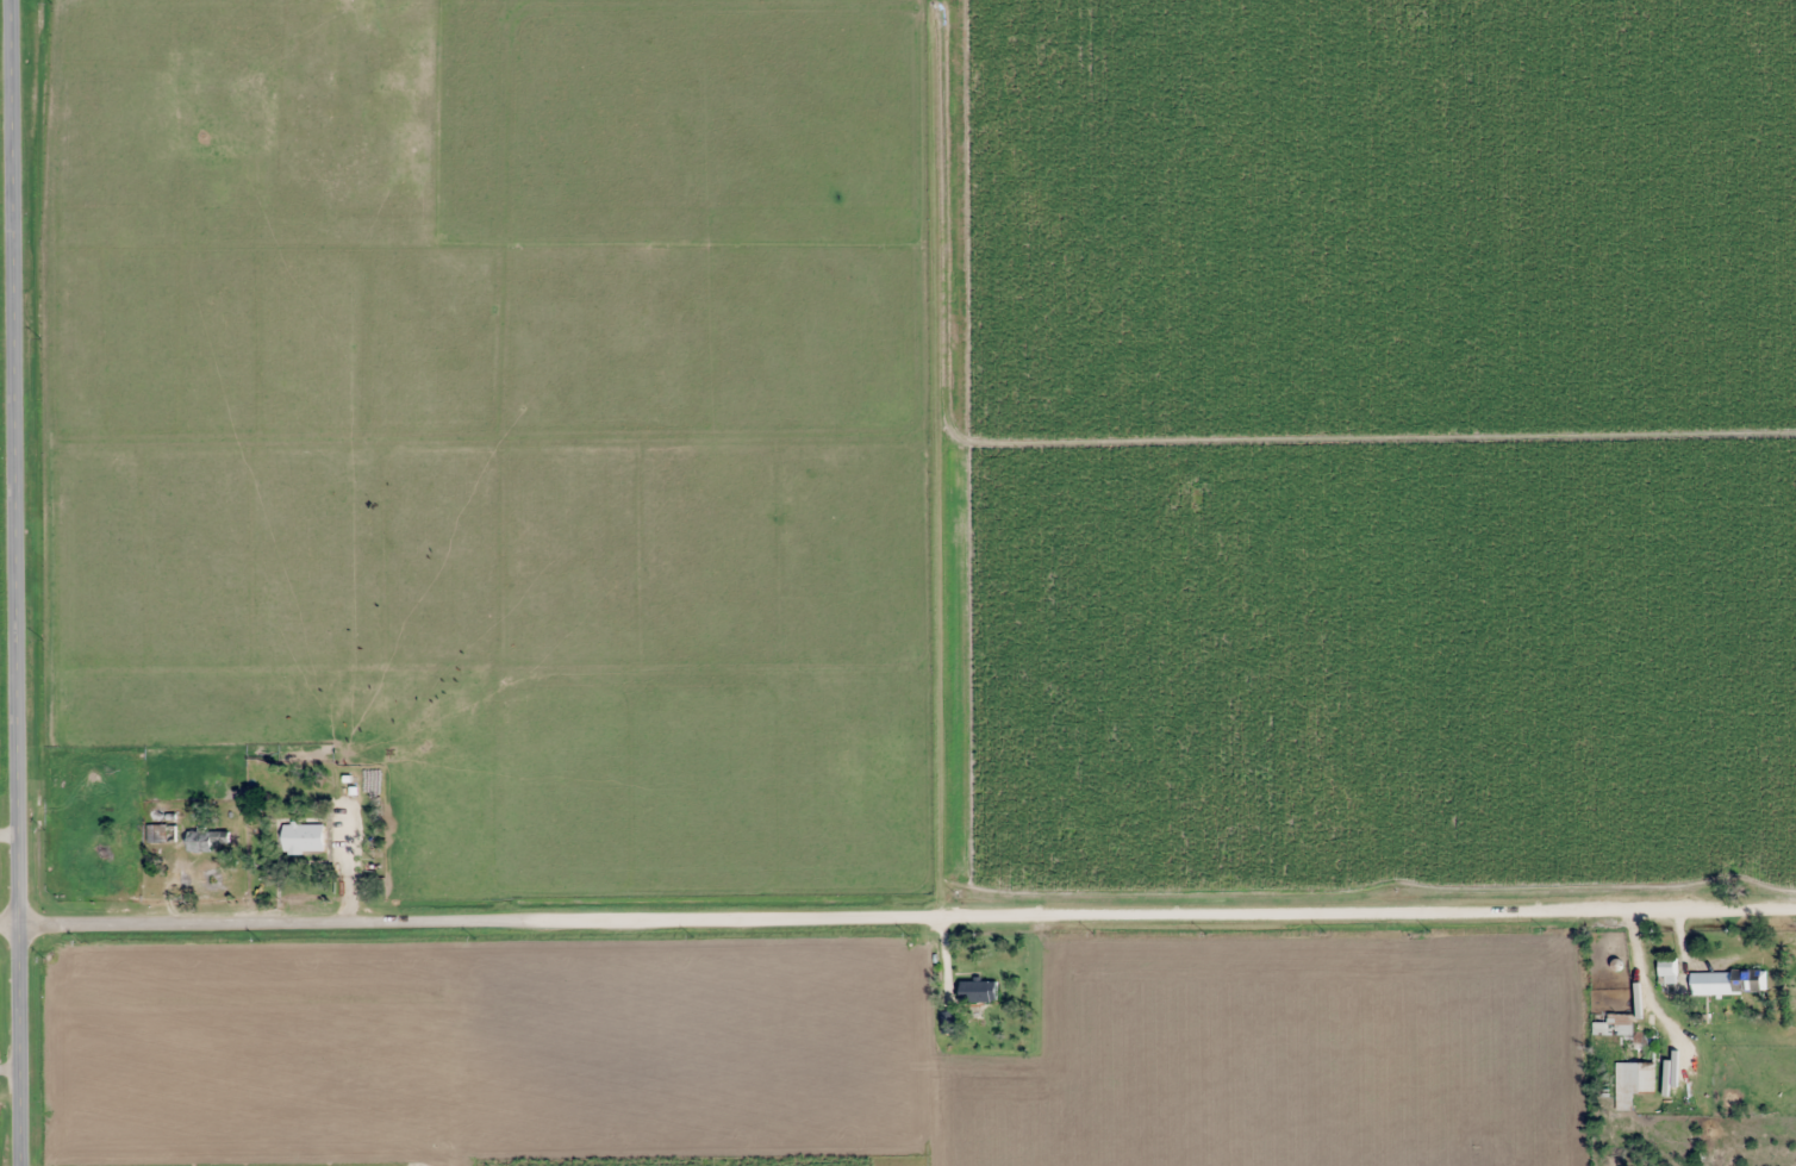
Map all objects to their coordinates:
road: (15, 582)
building: (108, 778)
building: (161, 834)
building: (303, 838)
building: (199, 841)
road: (897, 909)
building: (1727, 983)
building: (978, 991)
building: (1629, 1054)

